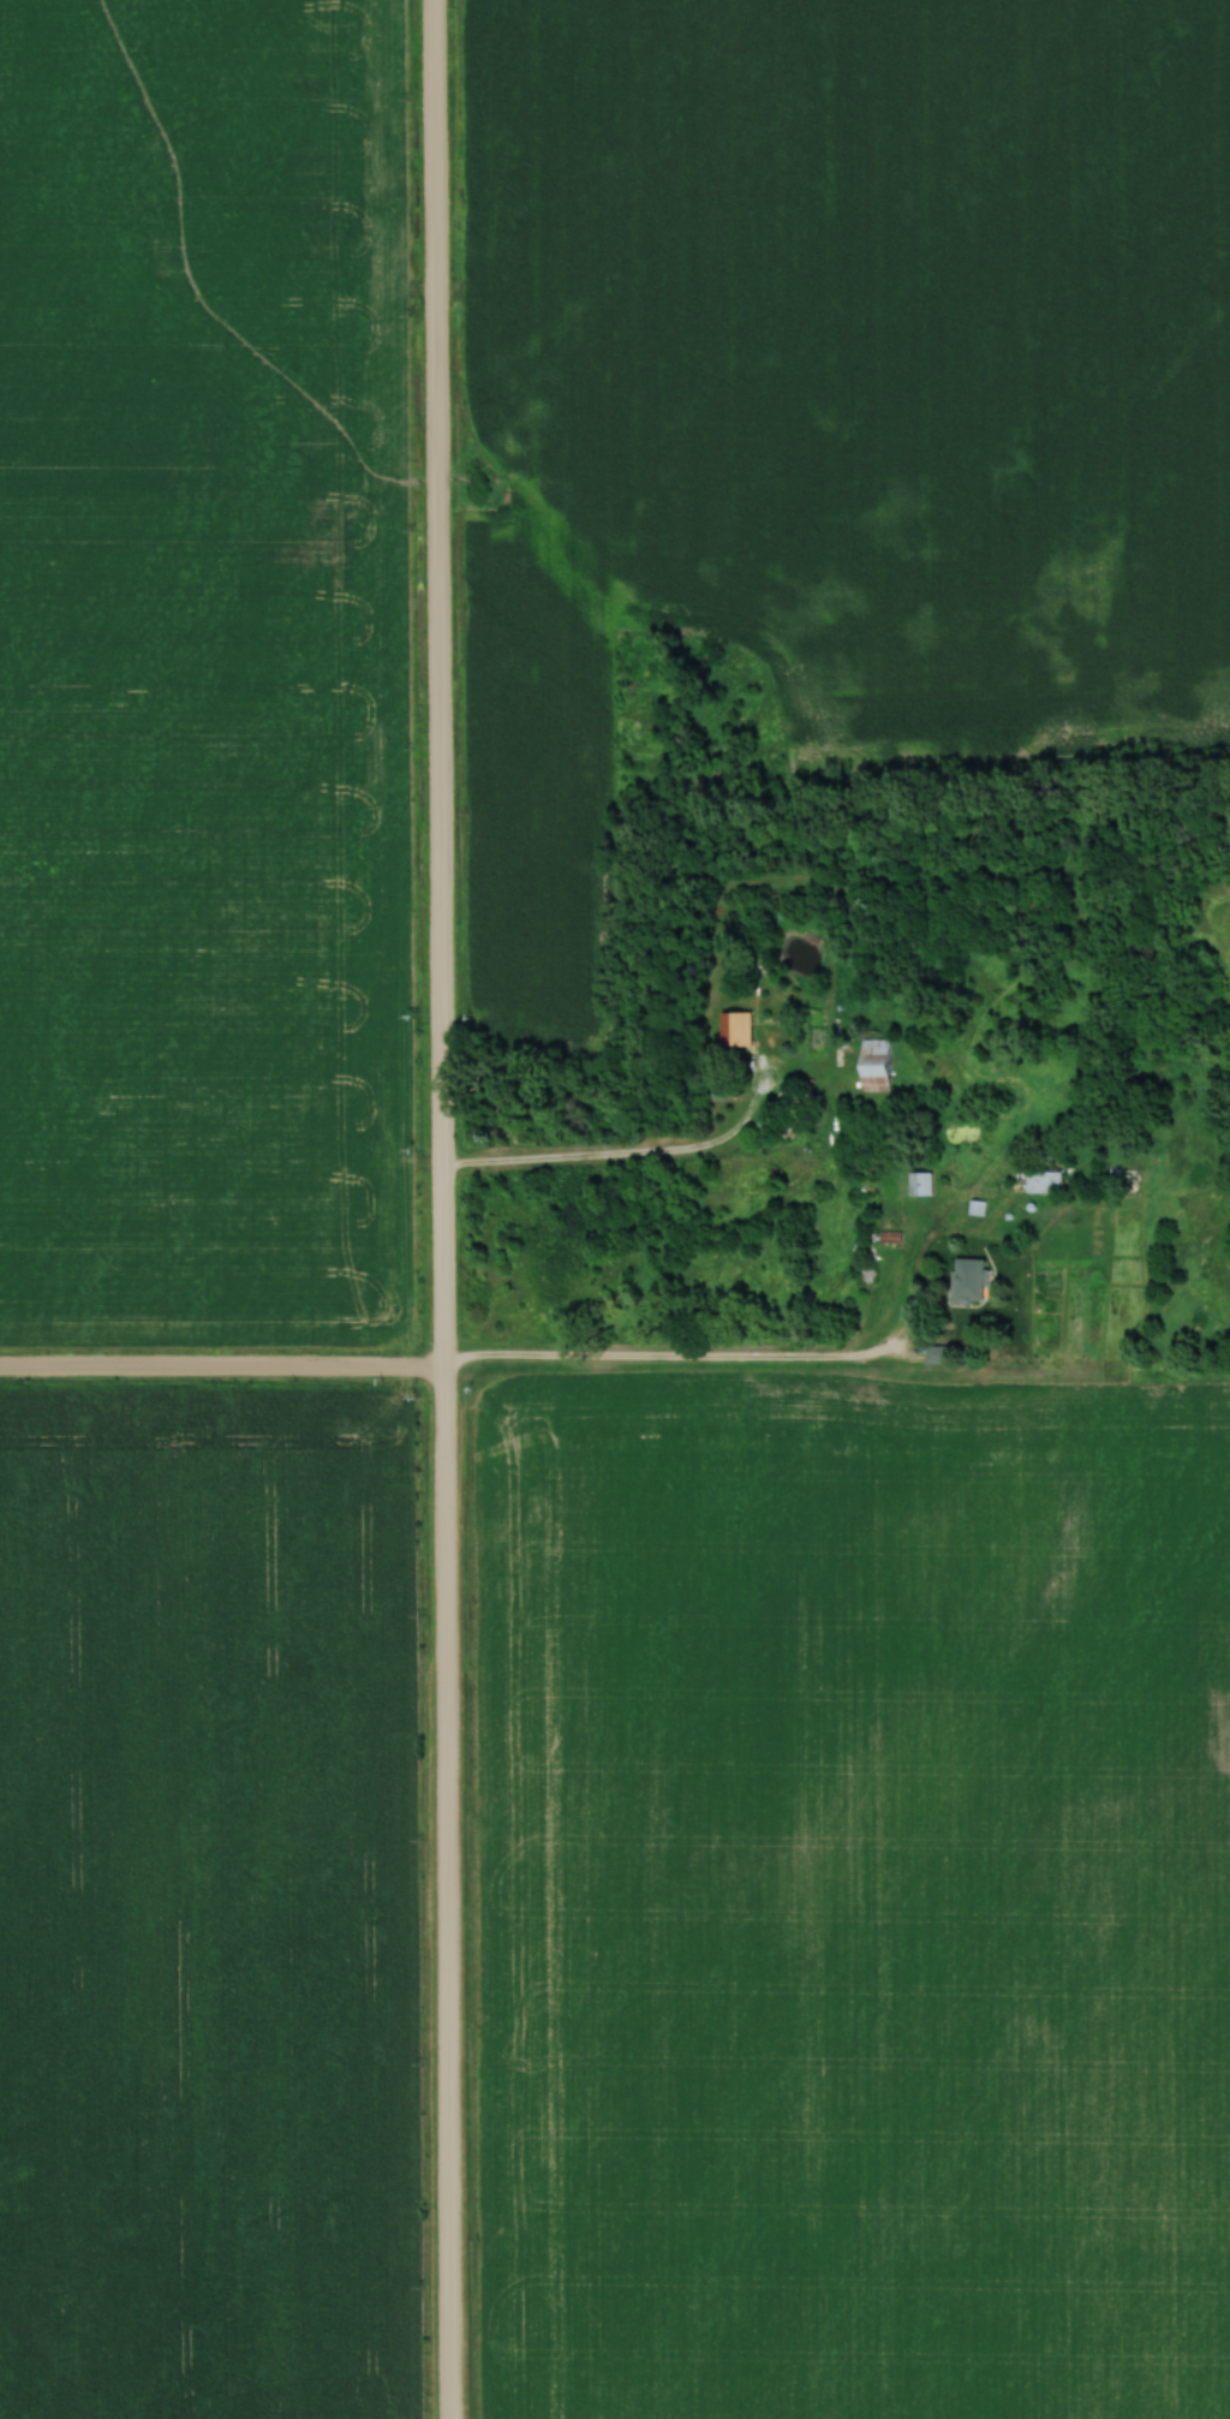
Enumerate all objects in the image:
building: (735, 1029)
building: (876, 1063)
building: (1039, 1156)
road: (621, 1158)
building: (1122, 1174)
building: (1044, 1182)
building: (919, 1184)
road: (438, 1209)
building: (968, 1281)
road: (681, 1357)
road: (220, 1368)

